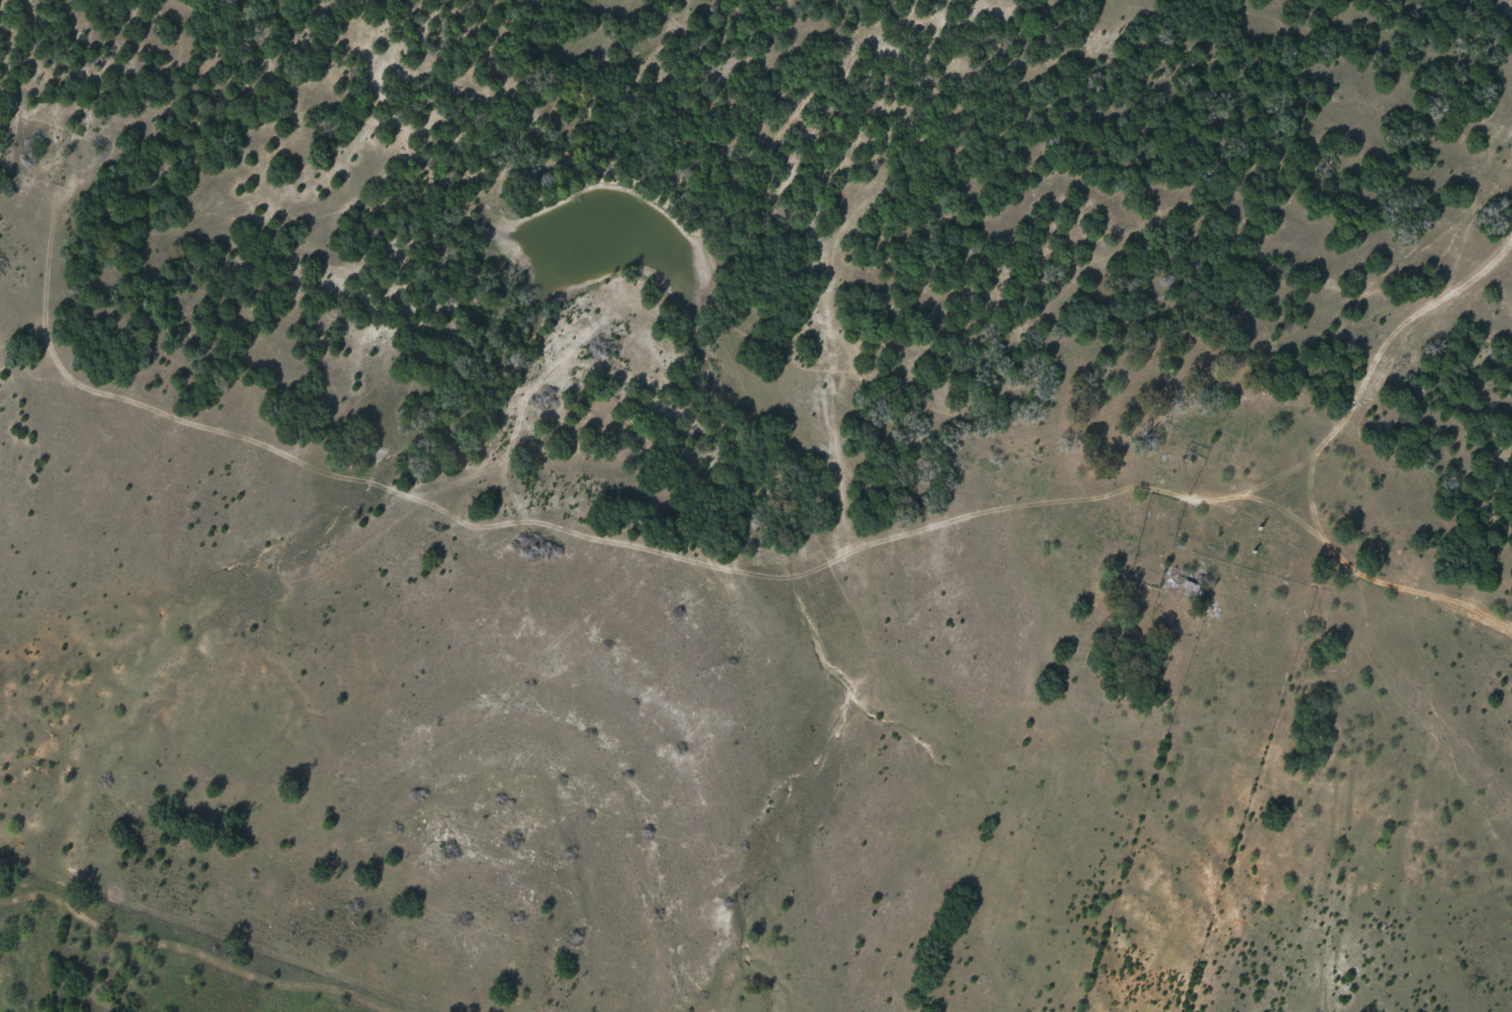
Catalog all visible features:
building: (1185, 581)

